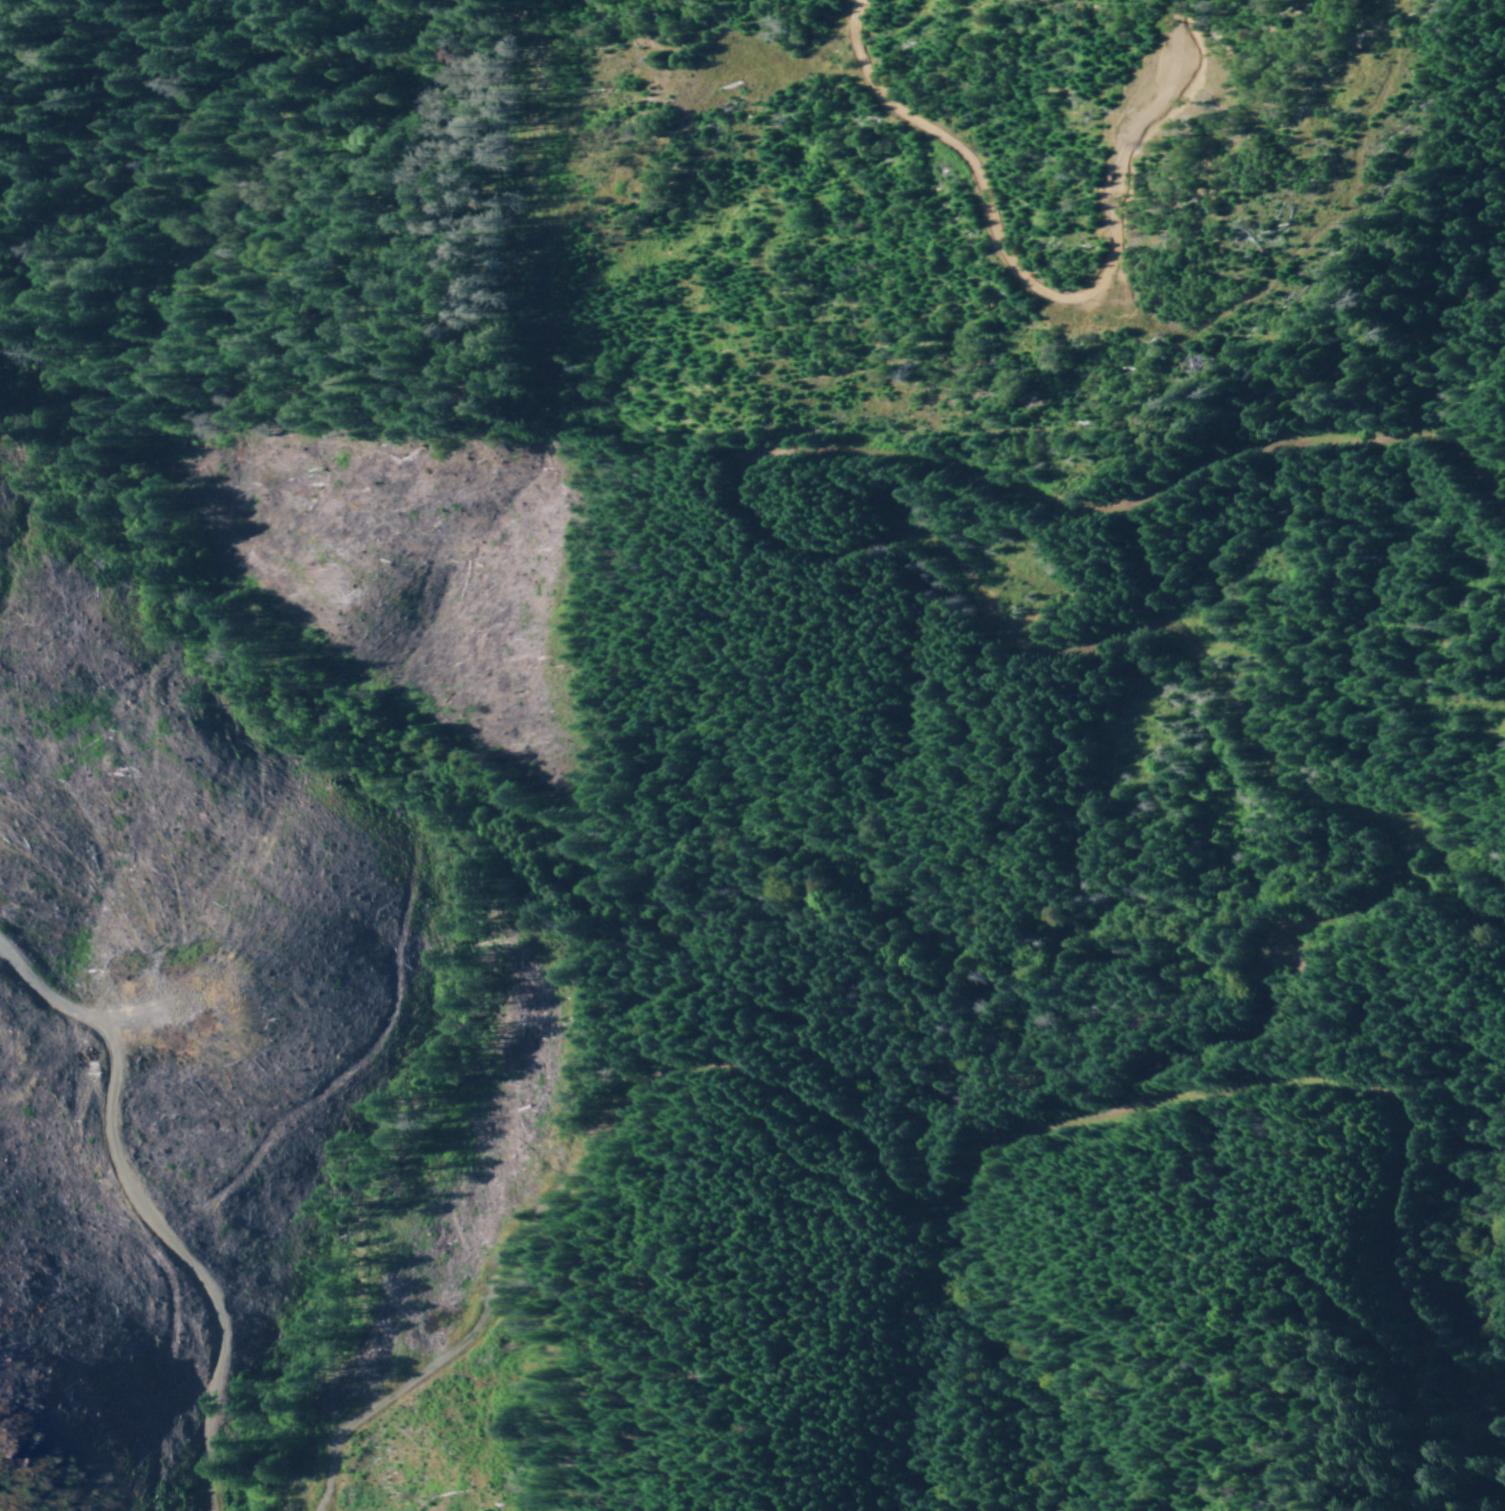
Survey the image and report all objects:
road: (929, 547)
road: (645, 1080)
road: (1407, 1129)
road: (139, 1222)

